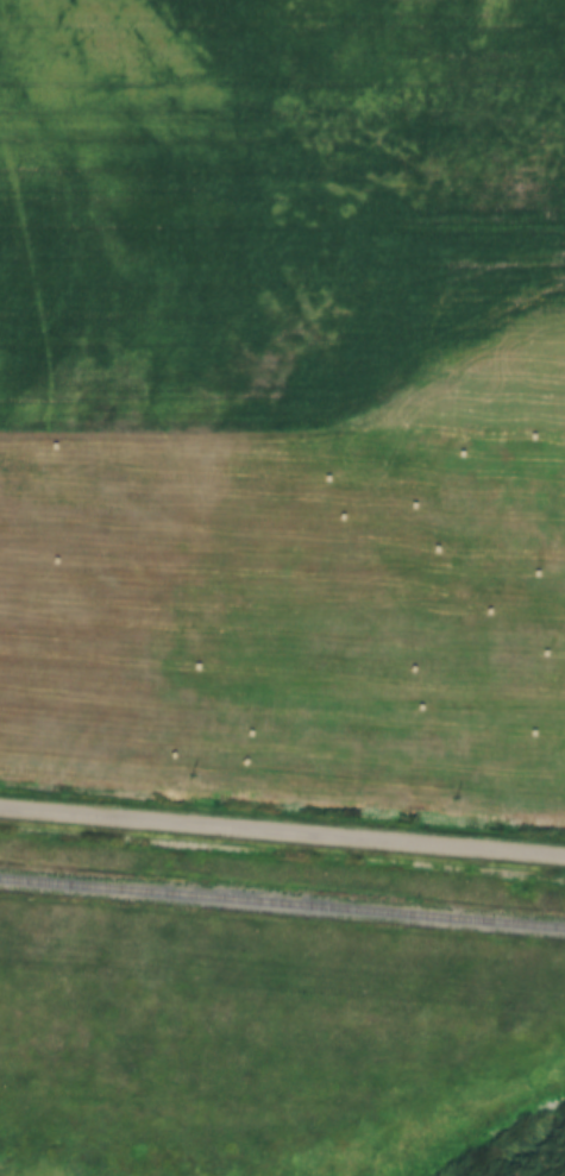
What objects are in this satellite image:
road: (282, 832)
railway: (282, 897)

